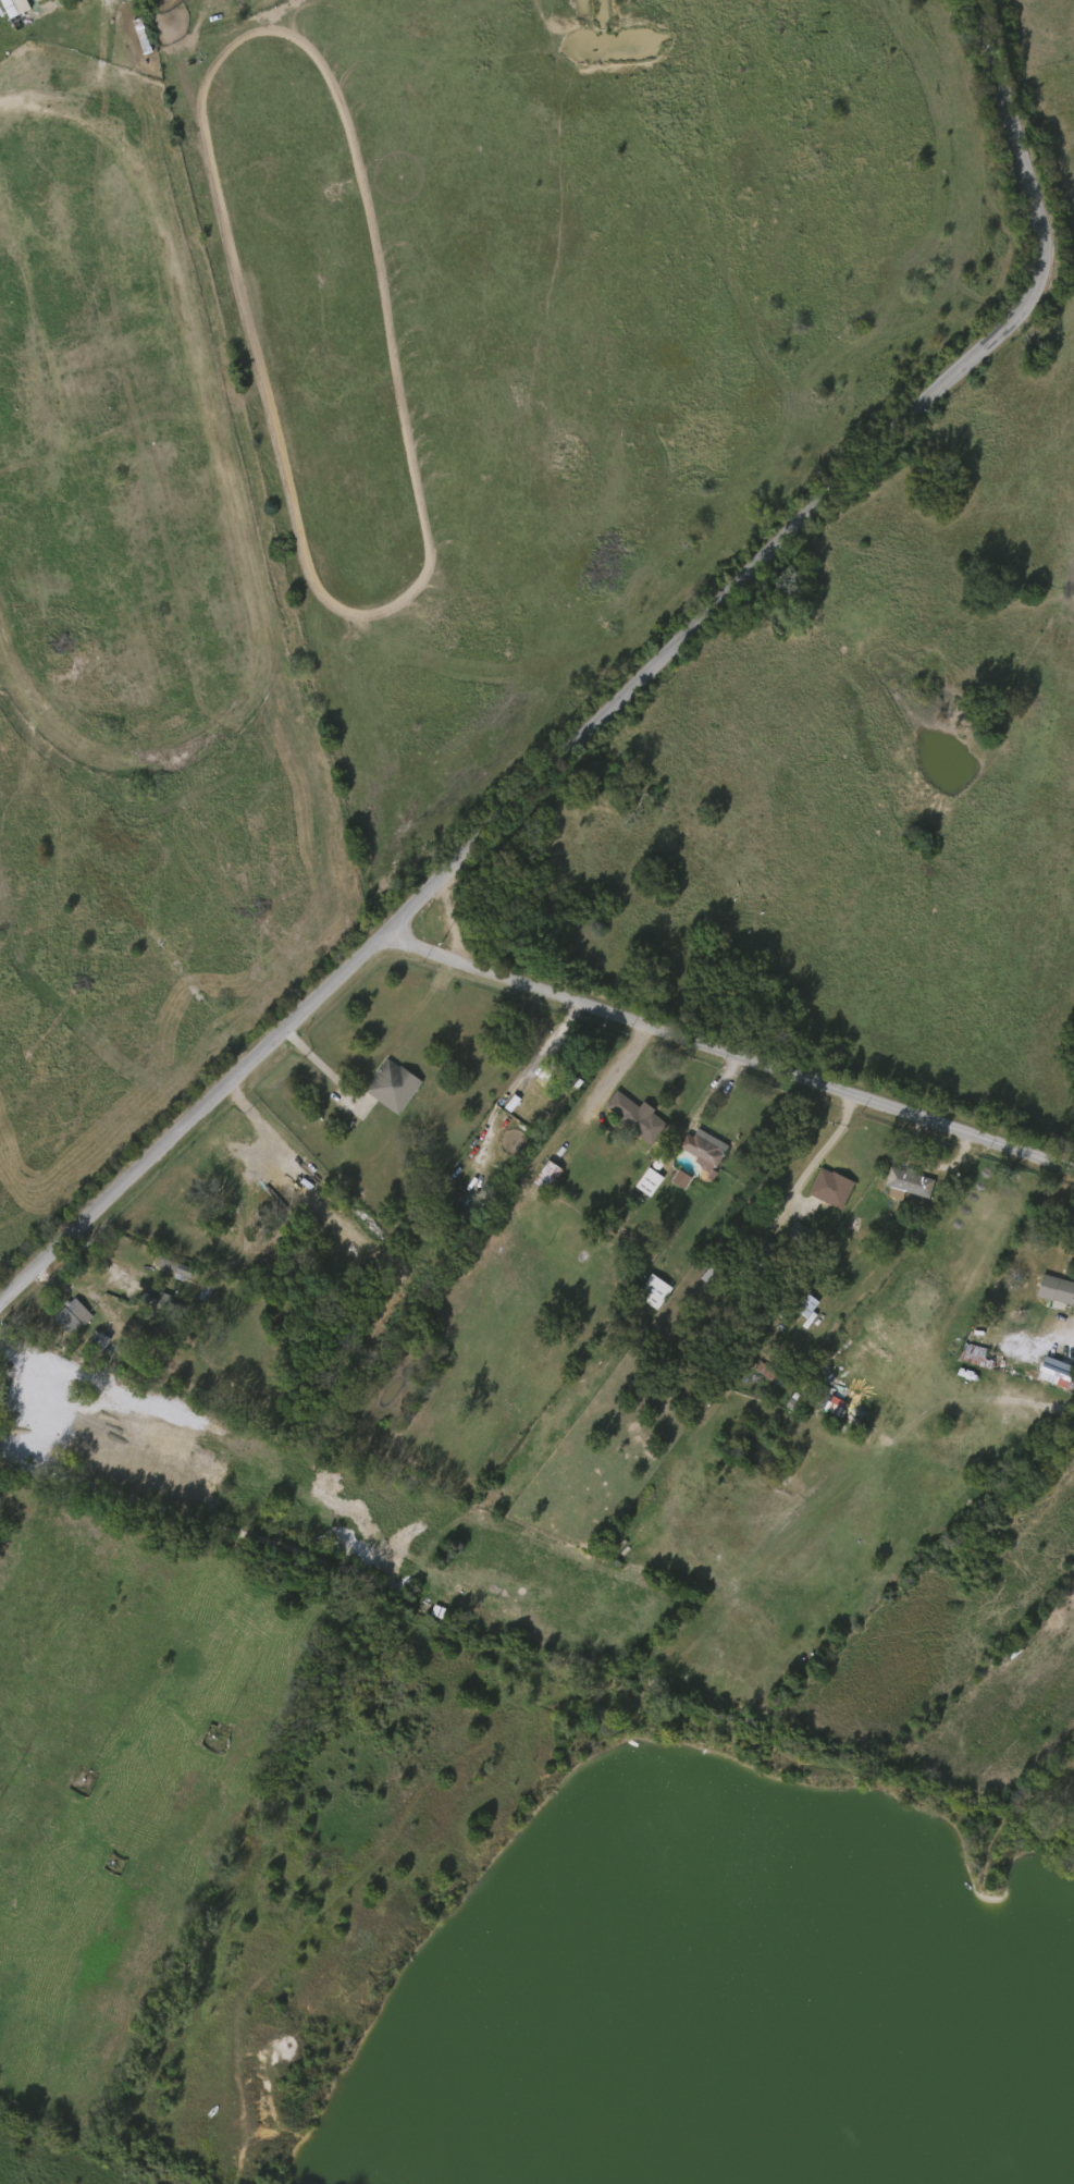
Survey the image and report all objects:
building: (7, 10)
road: (627, 694)
road: (728, 1053)
road: (322, 1065)
building: (563, 1073)
road: (613, 1076)
building: (395, 1085)
road: (703, 1101)
building: (638, 1118)
road: (824, 1145)
building: (704, 1149)
building: (551, 1176)
building: (536, 1179)
building: (647, 1181)
building: (669, 1182)
building: (906, 1182)
building: (638, 1186)
building: (830, 1187)
building: (786, 1236)
road: (109, 1261)
building: (174, 1267)
building: (164, 1272)
building: (754, 1273)
building: (1056, 1289)
building: (653, 1290)
building: (642, 1296)
building: (162, 1304)
building: (793, 1309)
building: (73, 1316)
building: (97, 1343)
building: (86, 1346)
building: (963, 1359)
building: (1044, 1375)
building: (709, 1376)

